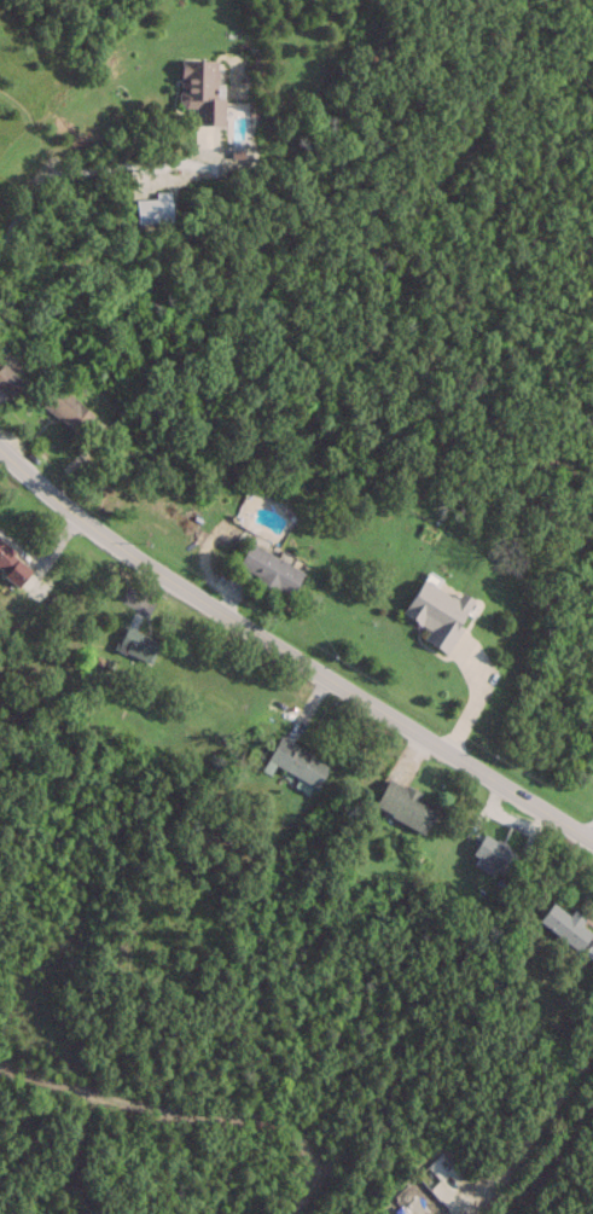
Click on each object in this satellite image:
building: (197, 91)
building: (149, 209)
building: (5, 382)
building: (63, 408)
building: (264, 568)
building: (10, 569)
building: (432, 609)
building: (134, 639)
road: (290, 652)
building: (292, 762)
building: (401, 803)
building: (488, 854)
building: (562, 925)
road: (181, 1114)
road: (535, 1132)
building: (412, 1207)

